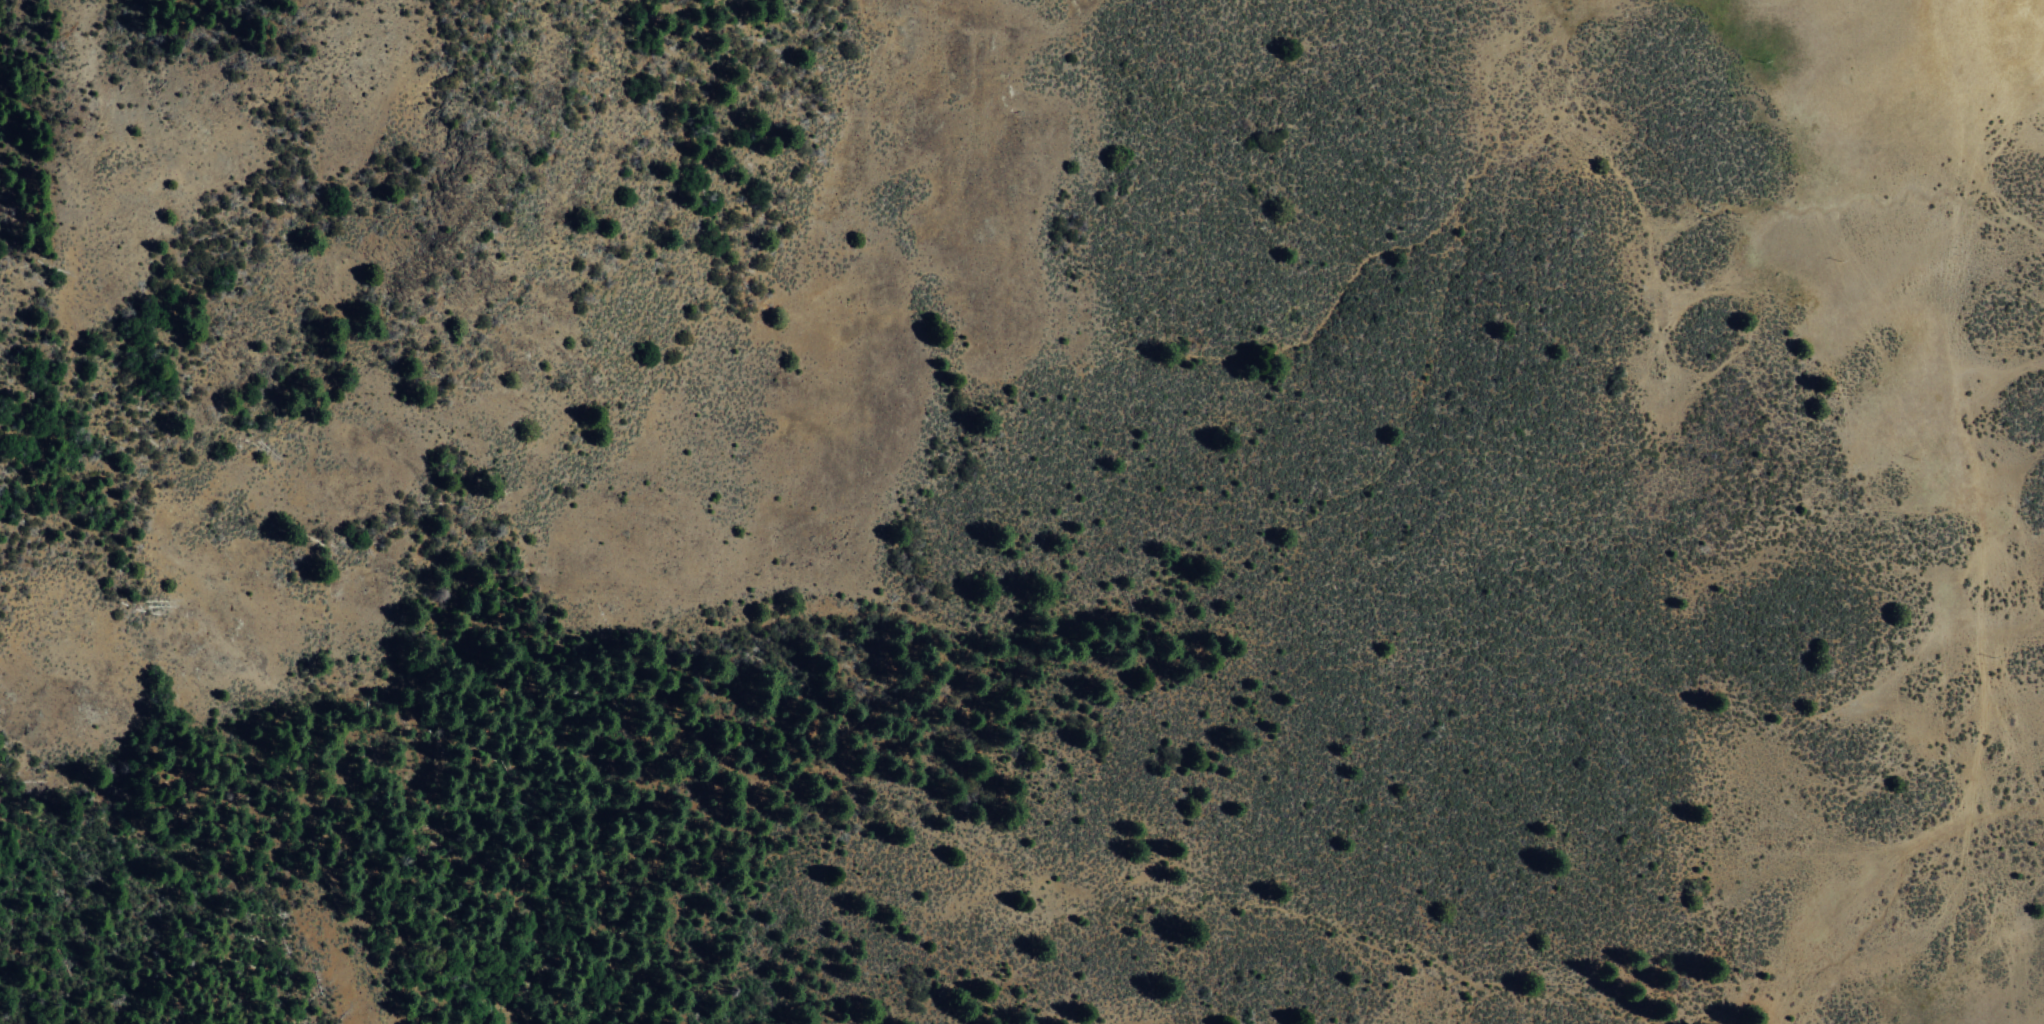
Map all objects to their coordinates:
crop: (1984, 55)

